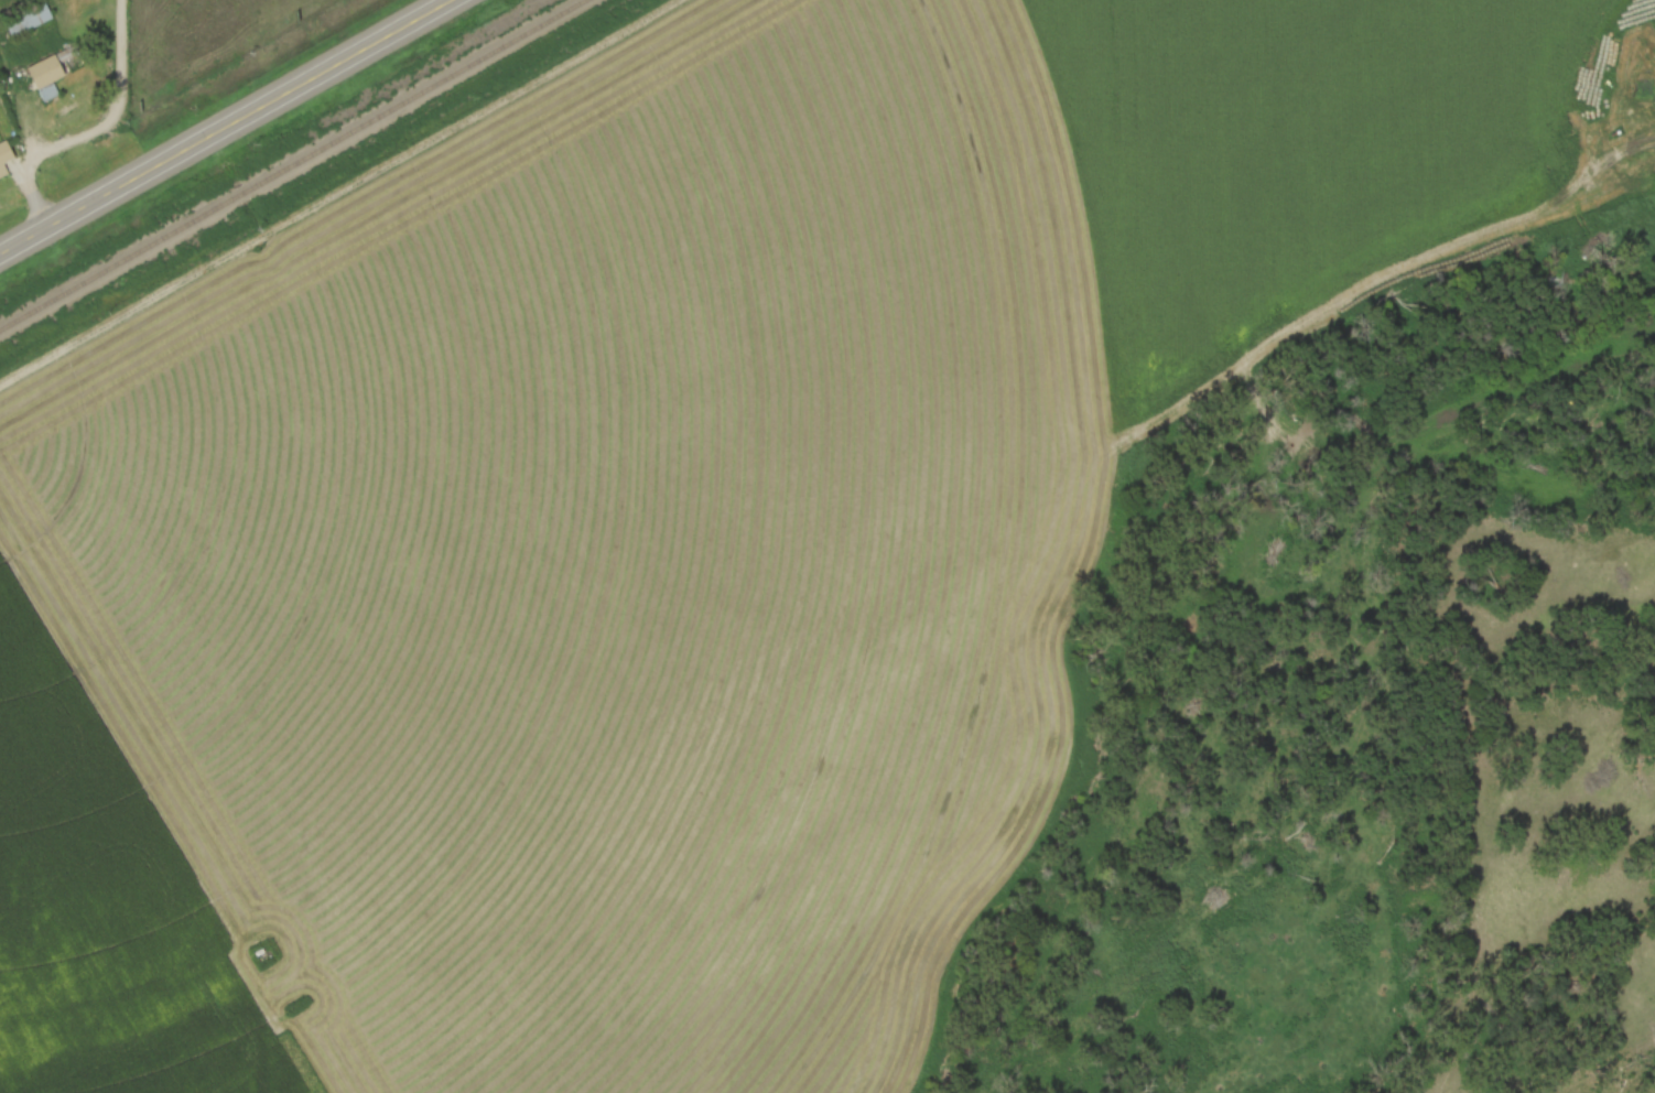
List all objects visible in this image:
building: (28, 19)
building: (46, 77)
road: (224, 127)
road: (96, 129)
building: (4, 156)
railway: (295, 167)

